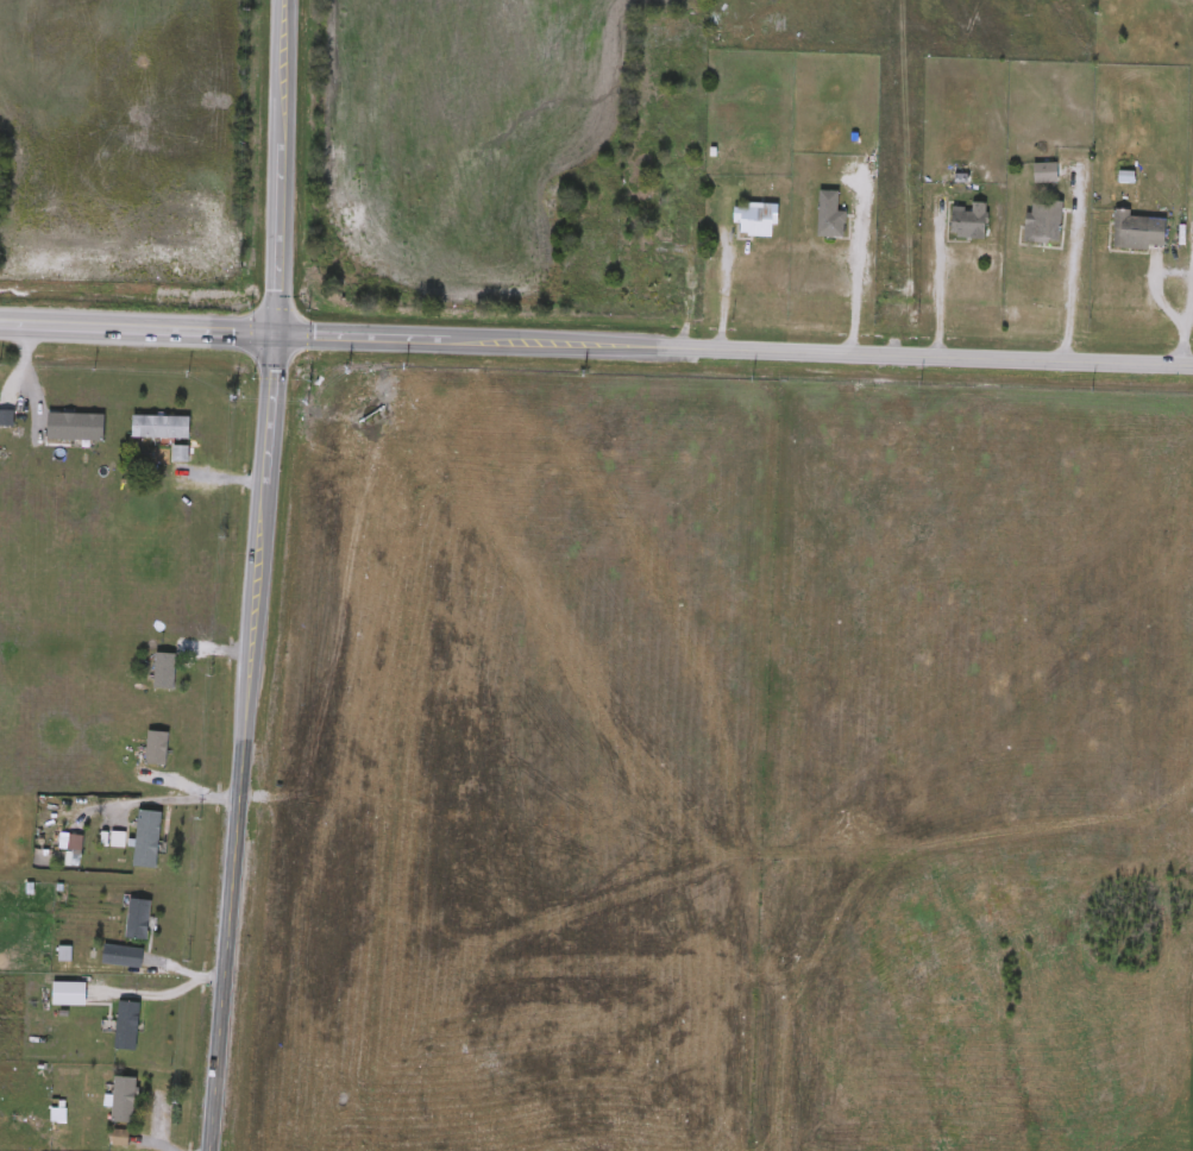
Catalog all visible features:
building: (673, 55)
building: (1046, 172)
building: (655, 215)
building: (829, 215)
building: (755, 219)
building: (969, 221)
building: (1043, 222)
building: (1141, 231)
road: (854, 278)
road: (1070, 284)
road: (941, 287)
road: (726, 291)
road: (1186, 295)
road: (596, 342)
building: (5, 419)
building: (161, 427)
road: (771, 435)
building: (180, 454)
road: (779, 522)
road: (259, 575)
building: (164, 669)
building: (156, 747)
road: (401, 829)
road: (641, 832)
building: (146, 838)
road: (881, 842)
road: (1120, 851)
road: (313, 910)
building: (138, 919)
building: (123, 956)
building: (127, 1025)
building: (124, 1099)
road: (451, 1147)

